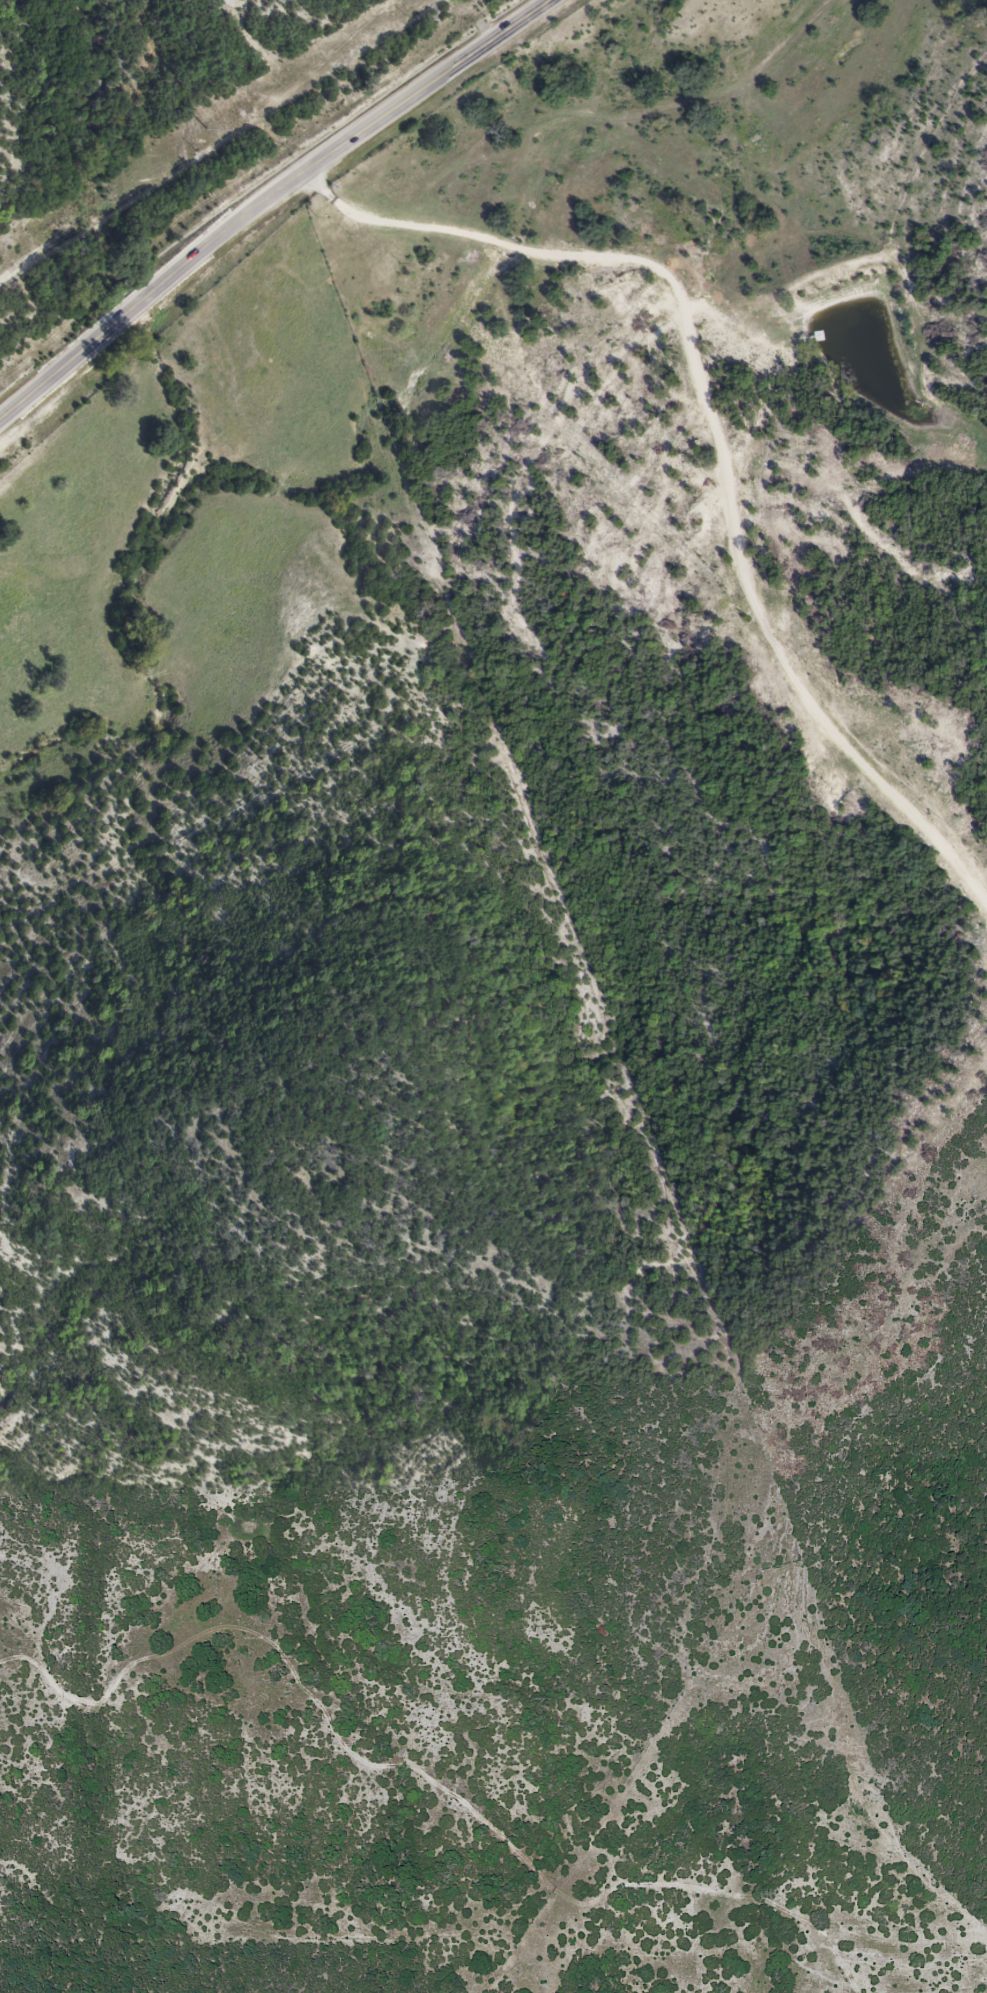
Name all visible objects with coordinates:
power tower: (206, 130)
road: (268, 199)
road: (720, 429)

